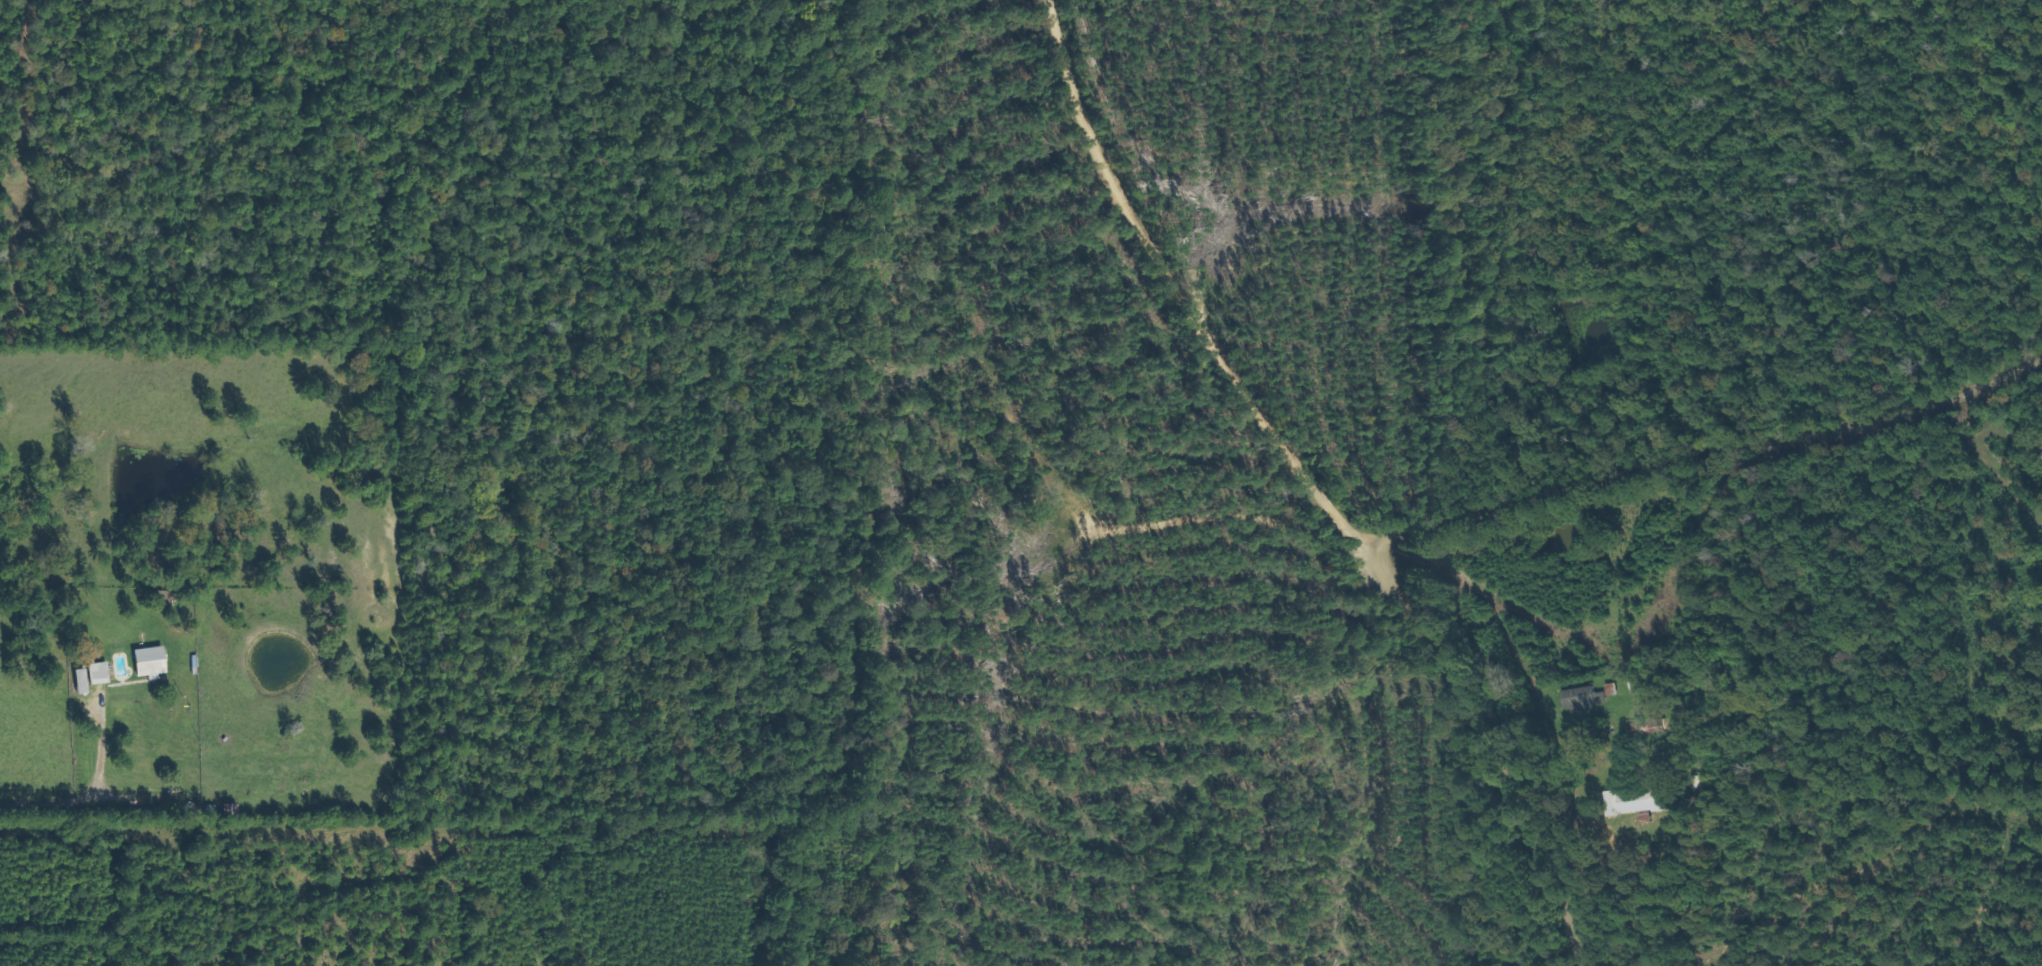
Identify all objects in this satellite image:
road: (1705, 466)
road: (1288, 483)
building: (144, 660)
building: (93, 672)
building: (1579, 697)
building: (1651, 726)
building: (1635, 796)
road: (1628, 854)

